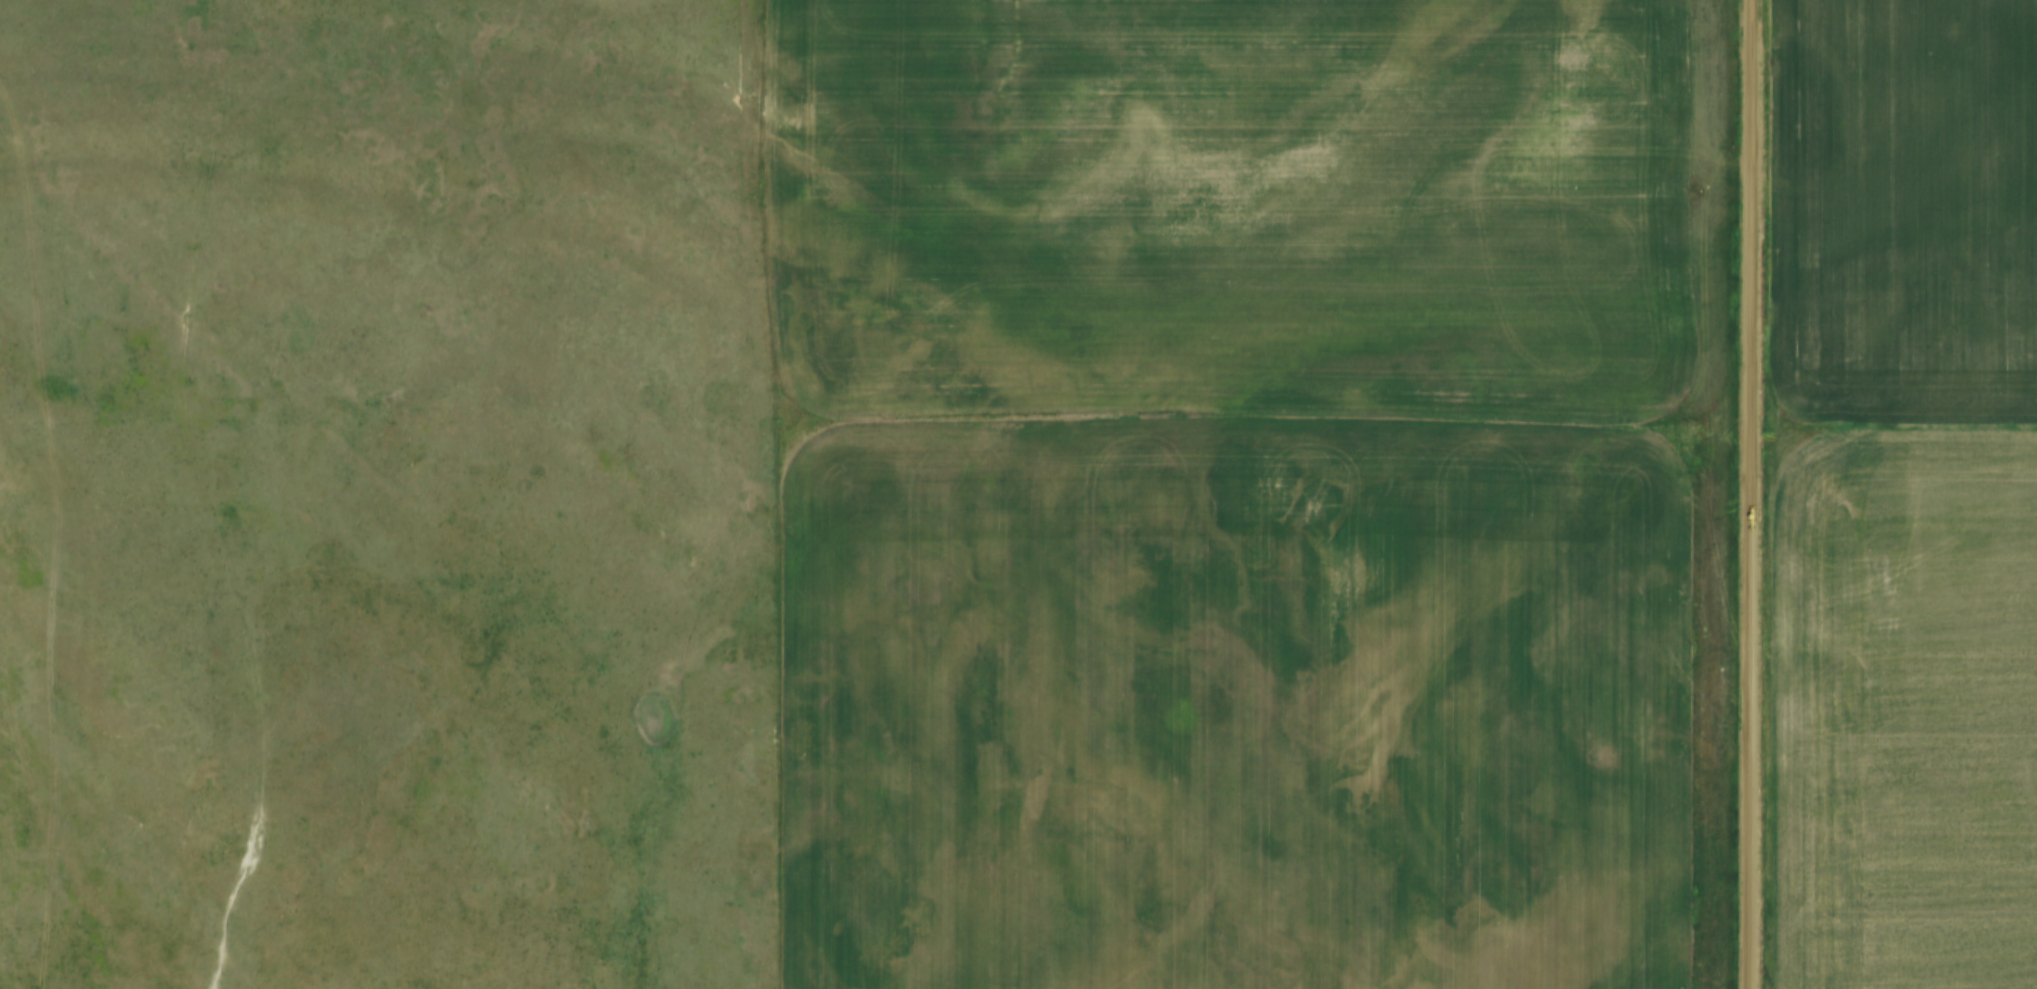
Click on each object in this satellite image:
road: (1751, 494)

